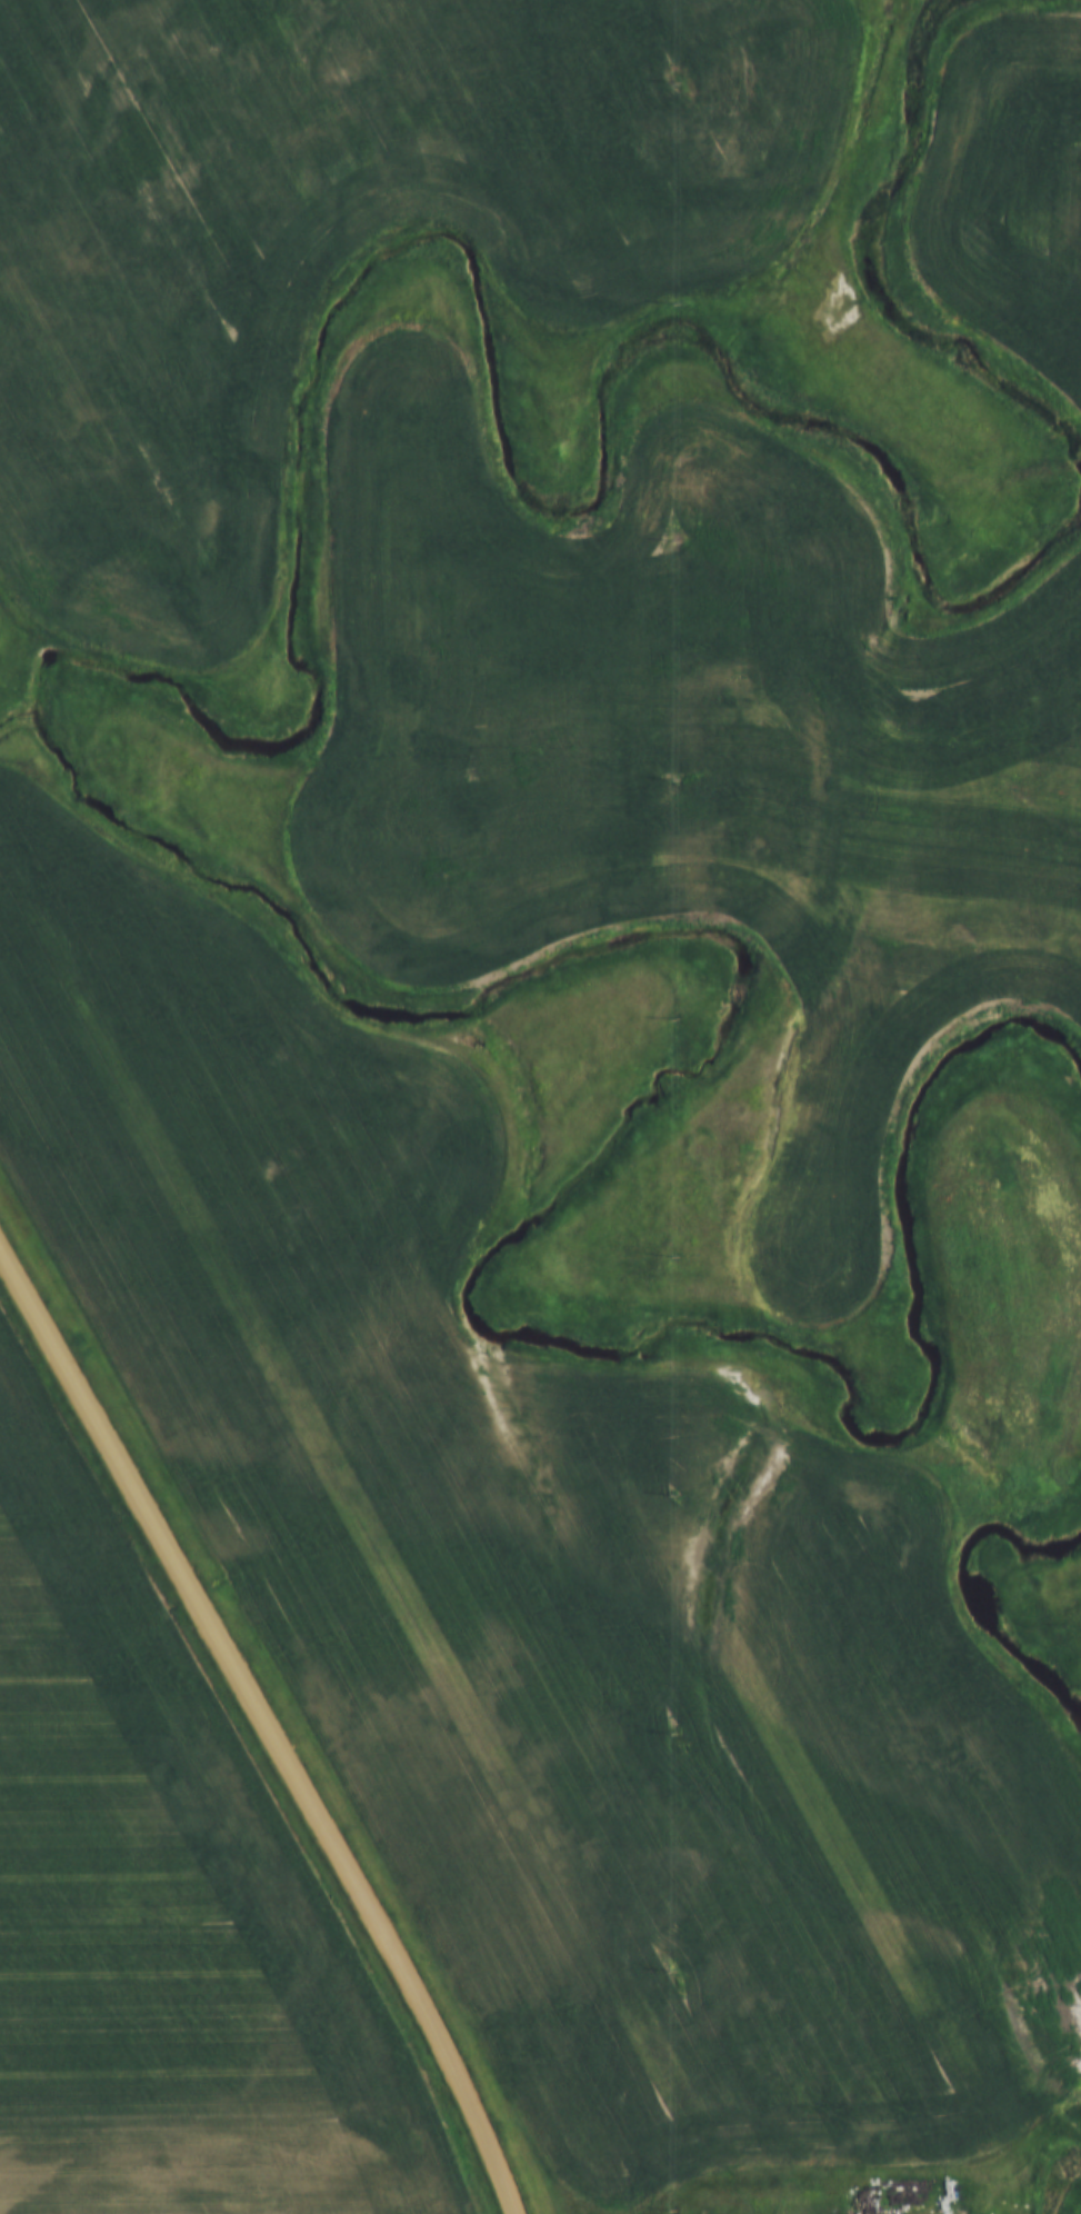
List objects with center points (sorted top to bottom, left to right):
road: (267, 1724)

